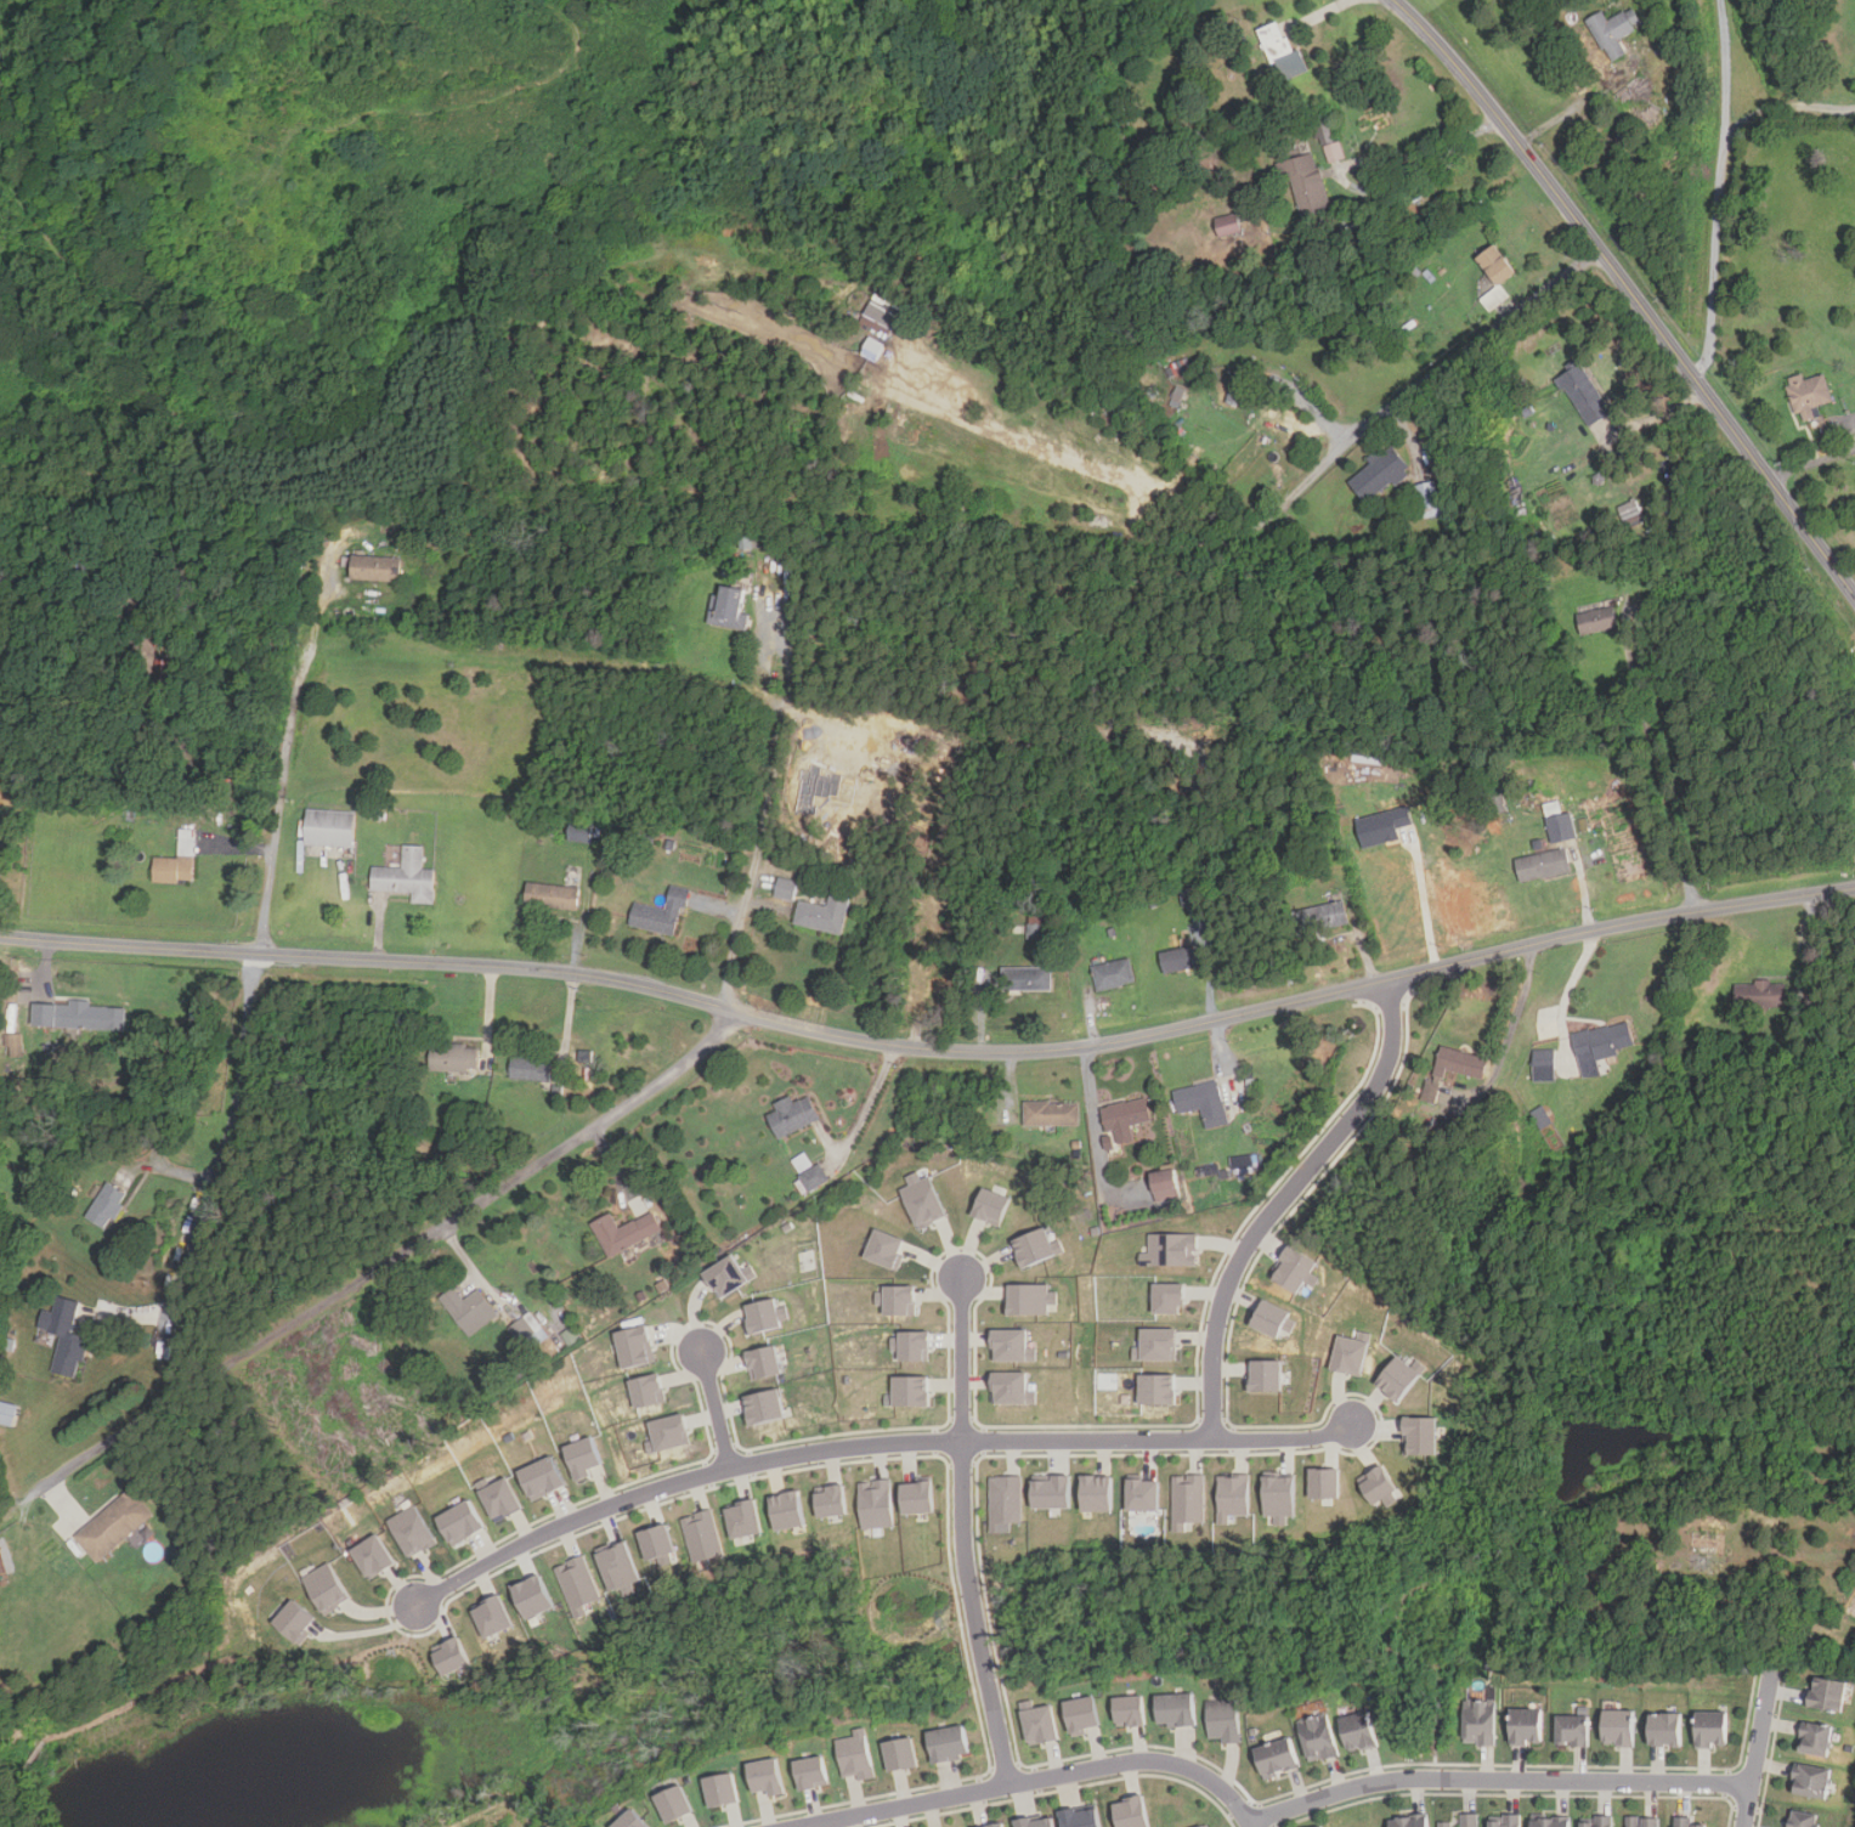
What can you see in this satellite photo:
road: (1327, 12)
building: (1614, 32)
building: (1282, 53)
road: (1579, 104)
road: (1777, 106)
building: (1334, 151)
road: (1424, 163)
road: (1718, 190)
building: (1311, 192)
building: (1228, 225)
building: (1497, 264)
road: (1630, 290)
building: (1494, 298)
building: (880, 318)
building: (873, 349)
road: (1449, 361)
building: (1177, 367)
building: (1584, 394)
building: (1808, 394)
building: (1240, 396)
road: (1812, 464)
building: (1380, 473)
building: (1430, 498)
building: (1630, 510)
building: (375, 567)
building: (729, 606)
building: (1597, 620)
building: (162, 672)
road: (1685, 824)
building: (1384, 826)
building: (1561, 826)
building: (329, 827)
building: (582, 832)
building: (177, 860)
building: (1543, 865)
building: (407, 876)
building: (785, 888)
building: (552, 895)
building: (1188, 896)
road: (1424, 904)
building: (661, 912)
building: (824, 913)
building: (1324, 916)
building: (1178, 958)
building: (1114, 973)
building: (1027, 978)
building: (1758, 994)
road: (1520, 1003)
building: (81, 1016)
road: (245, 1023)
building: (15, 1043)
building: (1601, 1045)
road: (931, 1048)
building: (454, 1057)
building: (1544, 1064)
building: (530, 1065)
building: (1460, 1065)
building: (1203, 1102)
building: (1051, 1113)
building: (1126, 1113)
building: (792, 1114)
road: (860, 1120)
road: (1095, 1122)
building: (1242, 1164)
building: (814, 1176)
building: (1165, 1180)
road: (508, 1186)
building: (923, 1200)
road: (1283, 1200)
building: (106, 1205)
building: (991, 1206)
building: (624, 1232)
building: (1036, 1246)
building: (887, 1249)
building: (1171, 1249)
building: (1294, 1268)
building: (728, 1275)
building: (1030, 1297)
building: (1169, 1297)
building: (897, 1299)
building: (469, 1310)
building: (762, 1314)
building: (1271, 1318)
building: (528, 1330)
building: (64, 1336)
building: (637, 1345)
building: (911, 1345)
building: (1013, 1345)
building: (1156, 1345)
building: (1351, 1352)
building: (763, 1361)
building: (1265, 1375)
building: (1401, 1376)
building: (1013, 1388)
building: (1158, 1388)
building: (649, 1390)
building: (910, 1391)
building: (764, 1405)
road: (714, 1409)
building: (7, 1413)
building: (668, 1432)
building: (1420, 1435)
road: (867, 1446)
building: (582, 1456)
building: (542, 1477)
building: (1325, 1483)
building: (1379, 1486)
building: (1052, 1491)
building: (1097, 1493)
building: (1142, 1493)
building: (918, 1495)
building: (1233, 1495)
building: (1279, 1495)
building: (499, 1497)
building: (831, 1499)
road: (963, 1499)
building: (1188, 1499)
building: (1006, 1501)
building: (877, 1503)
building: (787, 1509)
building: (743, 1518)
building: (460, 1522)
building: (114, 1525)
building: (412, 1529)
building: (702, 1535)
building: (658, 1544)
building: (1708, 1548)
building: (373, 1555)
building: (618, 1566)
building: (578, 1584)
building: (327, 1586)
building: (535, 1596)
building: (493, 1616)
building: (296, 1620)
building: (452, 1655)
road: (190, 1673)
building: (1826, 1693)
building: (1131, 1709)
building: (1176, 1709)
building: (1082, 1714)
building: (1222, 1719)
building: (1480, 1721)
building: (1040, 1723)
building: (1526, 1726)
building: (1618, 1727)
building: (1367, 1729)
building: (1664, 1729)
building: (1709, 1729)
building: (1573, 1730)
building: (1324, 1736)
building: (1814, 1738)
building: (949, 1742)
road: (1755, 1747)
building: (901, 1753)
road: (1001, 1753)
building: (856, 1754)
building: (1276, 1757)
building: (811, 1771)
building: (767, 1776)
road: (1035, 1780)
road: (1495, 1780)
building: (1810, 1781)
building: (723, 1788)
building: (675, 1803)
building: (1130, 1811)
building: (1078, 1818)
building: (1802, 1818)
building: (630, 1820)
building: (1414, 1820)
building: (1469, 1820)
building: (1511, 1820)
building: (1557, 1821)
building: (1599, 1821)
building: (1036, 1822)
building: (1642, 1822)
building: (1685, 1822)
building: (992, 1825)
building: (1208, 1825)

